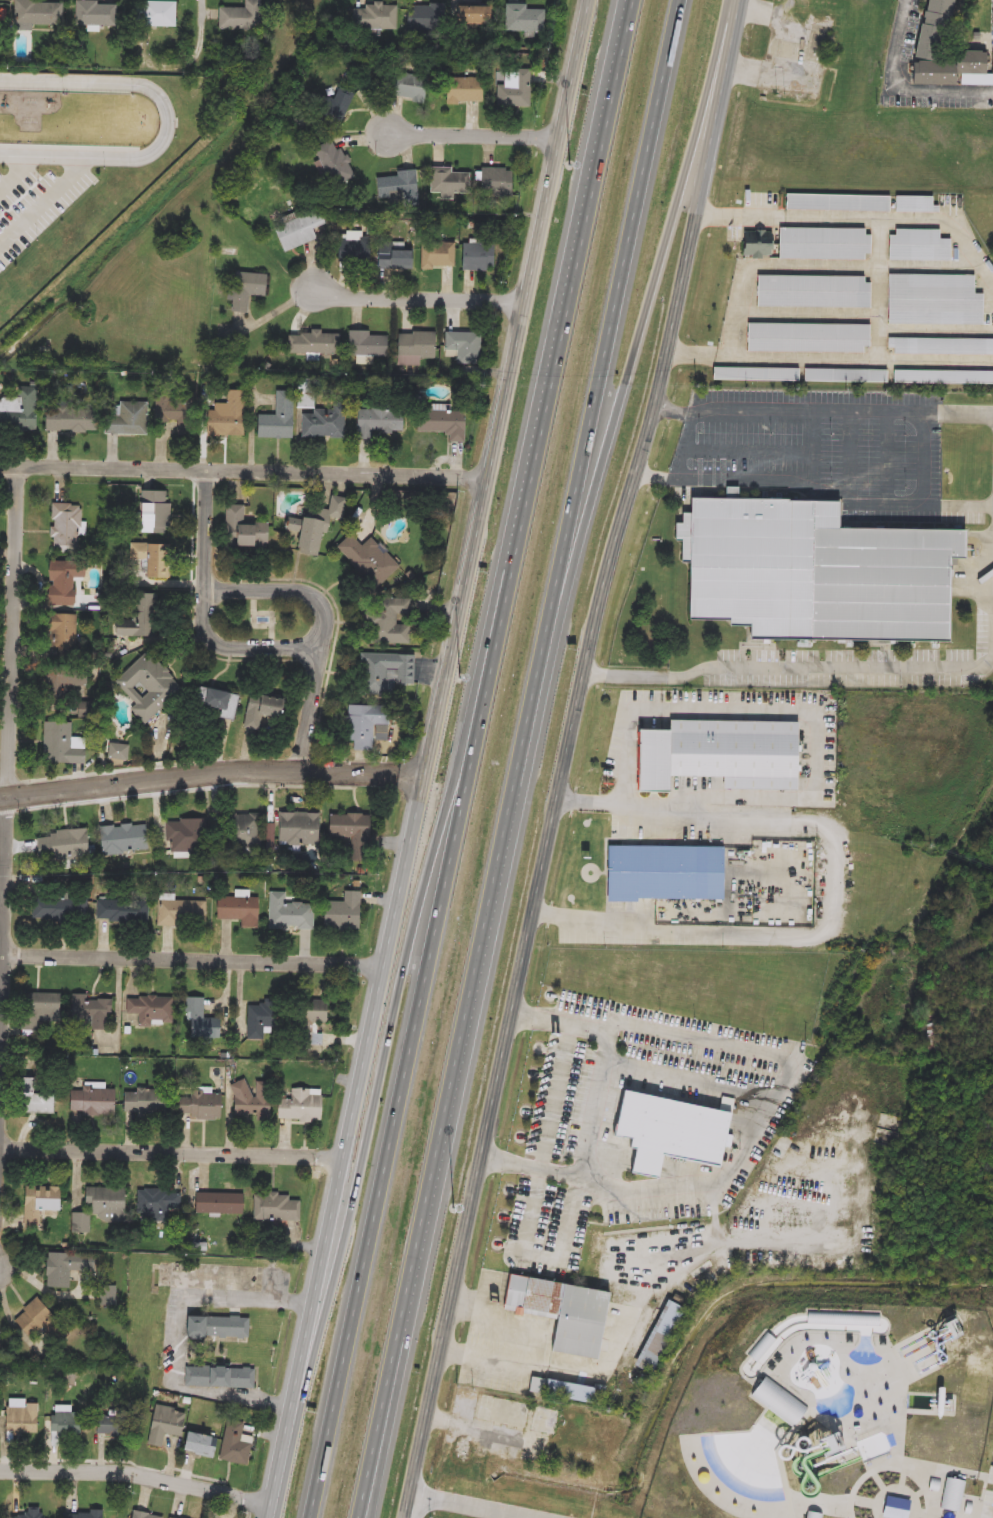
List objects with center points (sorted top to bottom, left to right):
building: (37, 12)
building: (95, 14)
building: (154, 14)
building: (241, 17)
building: (374, 17)
building: (427, 17)
building: (473, 17)
building: (524, 19)
road: (205, 35)
building: (820, 43)
building: (944, 53)
building: (410, 87)
road: (901, 88)
building: (514, 90)
building: (462, 92)
building: (333, 108)
road: (167, 119)
road: (473, 134)
building: (335, 163)
street lamp: (571, 166)
road: (15, 171)
building: (449, 182)
building: (496, 182)
building: (398, 187)
road: (43, 200)
building: (837, 202)
building: (915, 204)
parking lot: (35, 205)
road: (857, 219)
building: (298, 228)
building: (756, 243)
building: (823, 243)
building: (918, 246)
building: (354, 247)
building: (438, 254)
building: (478, 257)
building: (394, 258)
road: (574, 270)
building: (244, 289)
building: (813, 292)
road: (417, 298)
building: (934, 301)
building: (808, 338)
building: (314, 343)
building: (368, 344)
building: (415, 347)
building: (463, 347)
building: (941, 347)
road: (828, 358)
building: (756, 374)
road: (600, 375)
building: (845, 376)
building: (943, 378)
building: (174, 409)
building: (19, 410)
road: (875, 410)
road: (731, 411)
road: (965, 414)
building: (227, 416)
building: (125, 418)
building: (278, 418)
building: (69, 419)
building: (319, 419)
building: (378, 420)
building: (441, 423)
road: (620, 425)
road: (685, 446)
road: (812, 446)
road: (748, 448)
road: (851, 454)
road: (887, 457)
road: (924, 459)
road: (243, 466)
building: (949, 475)
road: (721, 481)
road: (873, 503)
road: (966, 506)
building: (153, 511)
building: (316, 524)
building: (237, 527)
building: (66, 528)
building: (149, 559)
building: (368, 559)
road: (292, 572)
building: (814, 573)
building: (66, 581)
road: (323, 584)
road: (205, 609)
building: (140, 615)
road: (252, 615)
fountain: (261, 617)
road: (191, 618)
street lamp: (243, 618)
street lamp: (278, 618)
road: (271, 619)
building: (389, 620)
road: (327, 625)
building: (66, 636)
building: (384, 673)
road: (790, 674)
street lamp: (460, 679)
building: (64, 680)
building: (148, 687)
building: (215, 702)
road: (772, 707)
building: (259, 711)
building: (363, 725)
road: (625, 735)
building: (62, 744)
building: (117, 753)
road: (565, 758)
building: (722, 758)
road: (430, 759)
road: (10, 760)
road: (117, 767)
road: (213, 767)
road: (11, 778)
road: (184, 788)
road: (793, 798)
road: (649, 806)
road: (8, 809)
building: (297, 828)
building: (349, 829)
building: (243, 831)
building: (186, 835)
building: (123, 839)
building: (64, 845)
building: (667, 871)
building: (62, 909)
building: (238, 910)
building: (122, 912)
building: (289, 912)
building: (342, 912)
building: (181, 914)
road: (777, 938)
road: (408, 941)
road: (195, 958)
building: (45, 1010)
building: (150, 1010)
building: (94, 1013)
building: (258, 1020)
building: (311, 1020)
building: (200, 1021)
road: (415, 1029)
road: (456, 1061)
road: (693, 1086)
building: (251, 1100)
building: (45, 1101)
building: (96, 1101)
building: (144, 1102)
building: (298, 1104)
building: (199, 1106)
road: (770, 1118)
building: (667, 1131)
road: (172, 1148)
railway: (778, 1148)
building: (821, 1182)
building: (754, 1187)
building: (103, 1199)
building: (36, 1202)
building: (156, 1203)
building: (219, 1203)
building: (275, 1207)
street lamp: (451, 1208)
building: (879, 1216)
building: (813, 1222)
road: (548, 1258)
building: (809, 1266)
building: (64, 1267)
building: (107, 1296)
building: (562, 1312)
road: (634, 1321)
building: (40, 1322)
building: (215, 1327)
road: (176, 1331)
building: (658, 1338)
road: (533, 1348)
building: (219, 1376)
building: (559, 1390)
building: (778, 1405)
building: (499, 1411)
water park: (825, 1411)
building: (20, 1420)
building: (542, 1420)
building: (117, 1422)
building: (166, 1424)
building: (66, 1425)
building: (201, 1443)
building: (235, 1444)
road: (374, 1444)
road: (379, 1444)
road: (112, 1457)
road: (137, 1471)
building: (493, 1475)
parking lot: (987, 1493)
building: (950, 1500)
road: (457, 1506)
building: (895, 1510)
building: (31, 1513)
building: (81, 1515)
building: (143, 1515)
building: (459, 1516)
building: (170, 1517)
building: (810, 1517)

